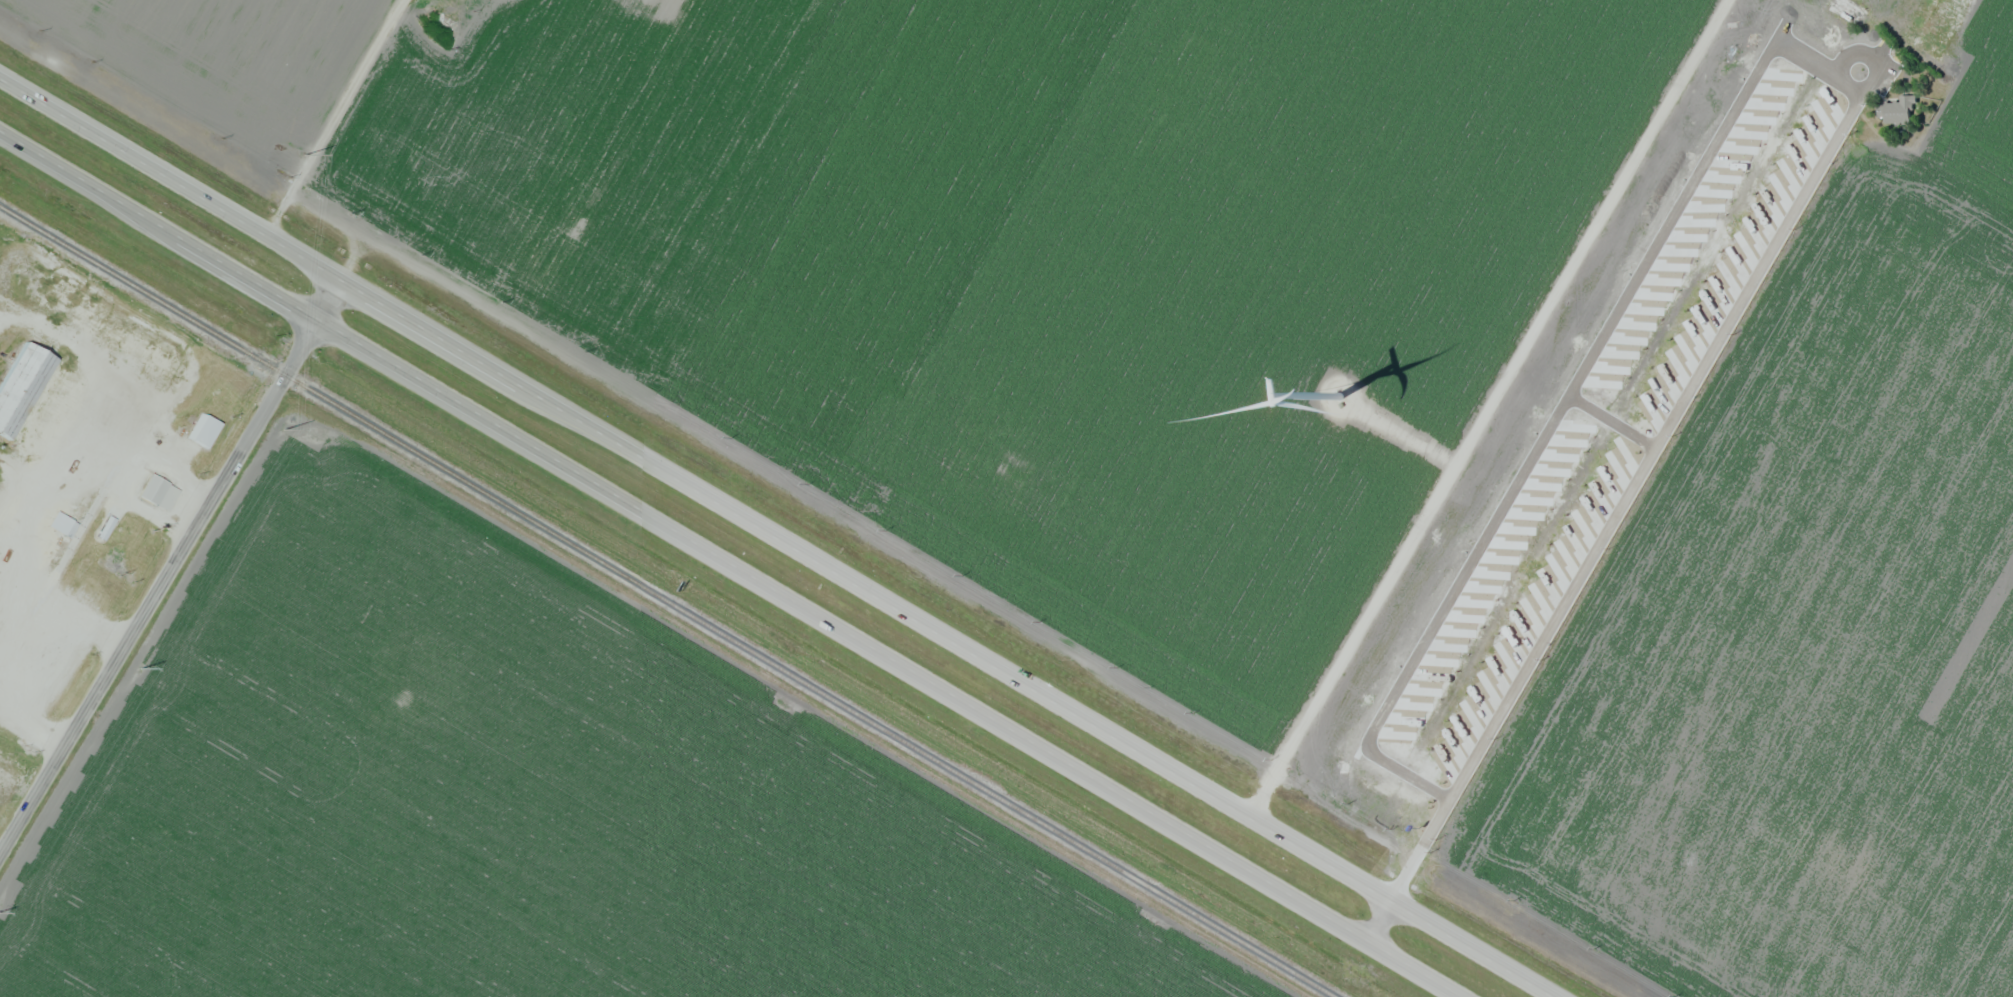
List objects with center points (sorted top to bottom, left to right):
building: (1848, 11)
building: (1847, 78)
building: (1898, 110)
road: (337, 116)
power tower: (300, 152)
building: (33, 280)
building: (62, 382)
building: (21, 385)
wind turbine: (1333, 401)
road: (1486, 403)
power tower: (284, 429)
building: (204, 432)
road: (1393, 435)
building: (43, 438)
building: (156, 493)
building: (111, 516)
road: (1612, 516)
road: (788, 541)
road: (733, 564)
road: (168, 566)
railway: (668, 601)
power tower: (141, 668)
road: (1380, 915)

